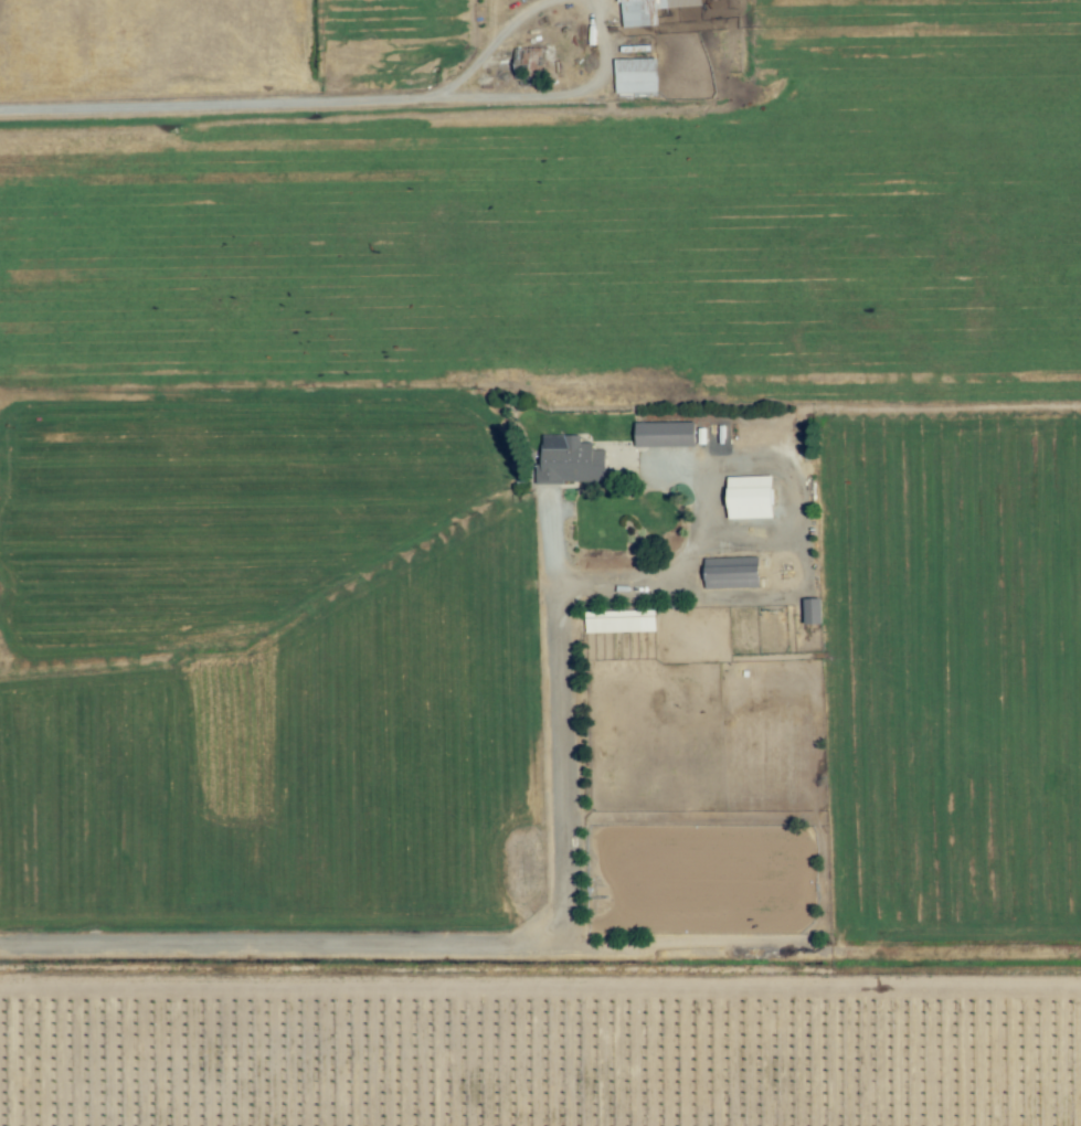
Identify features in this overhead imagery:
building: (648, 11)
road: (488, 46)
building: (527, 64)
building: (635, 76)
road: (558, 92)
road: (215, 103)
building: (665, 434)
building: (570, 460)
building: (750, 497)
crop: (540, 563)
building: (731, 573)
building: (812, 612)
building: (618, 622)
road: (552, 918)

